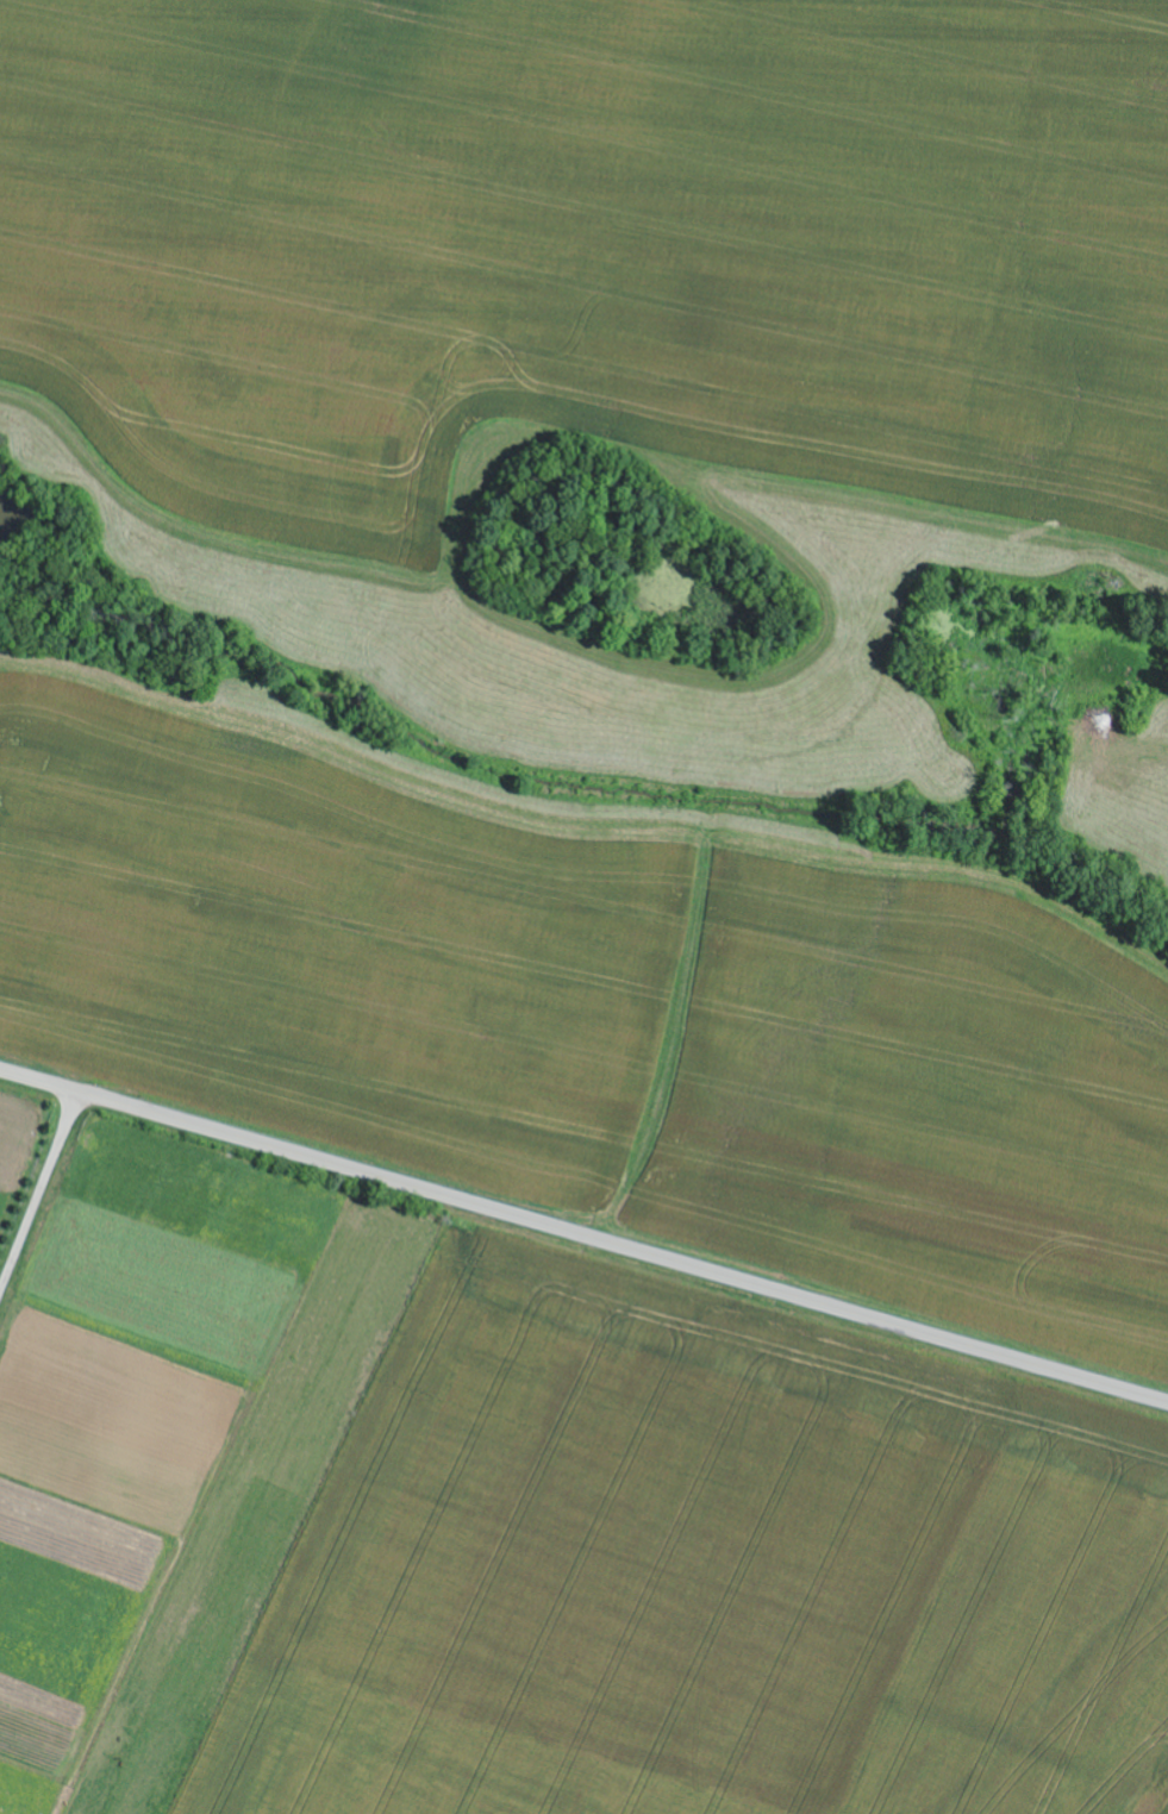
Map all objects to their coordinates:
road: (39, 1193)
road: (583, 1236)

